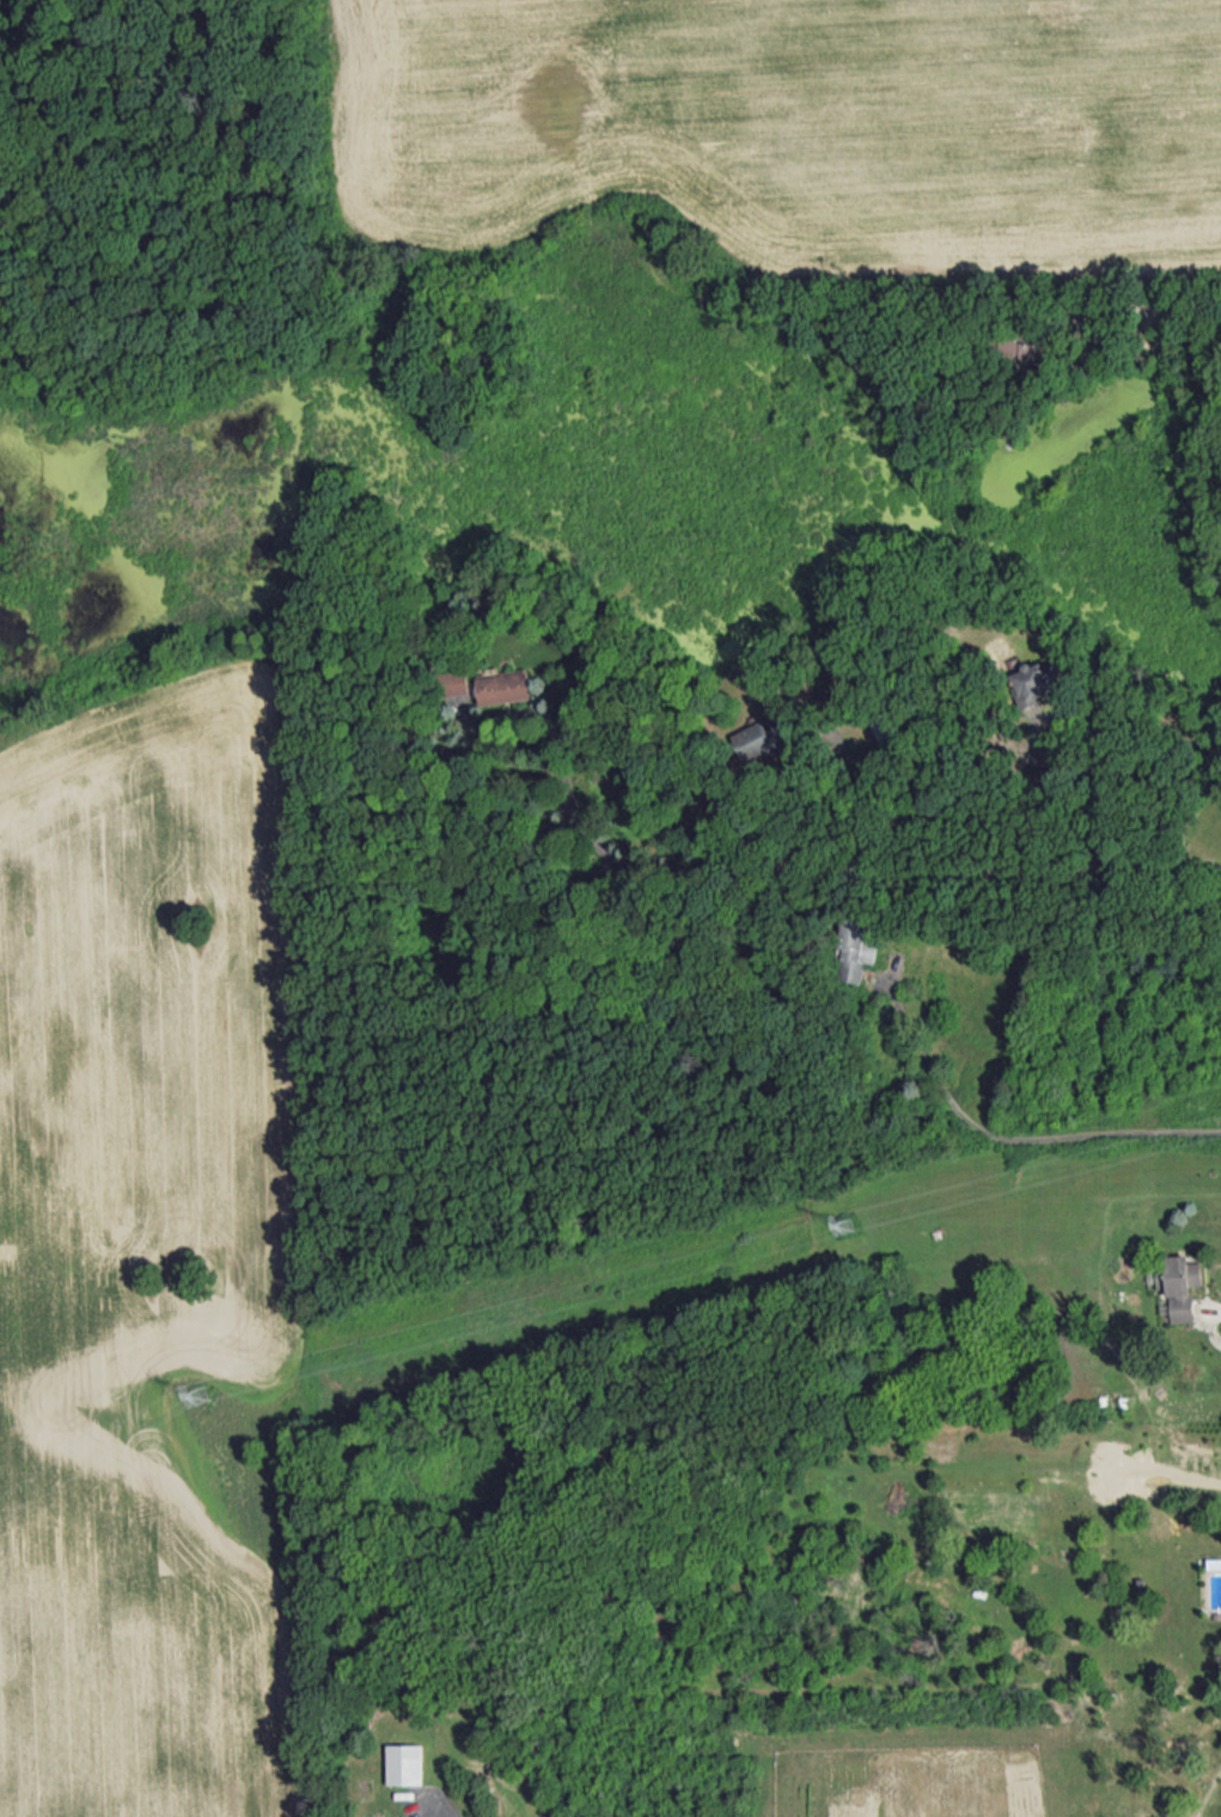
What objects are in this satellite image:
road: (1154, 319)
building: (1020, 348)
building: (460, 682)
building: (507, 687)
road: (509, 718)
road: (1093, 720)
building: (758, 738)
road: (881, 872)
building: (855, 950)
road: (1014, 1140)
power tower: (847, 1221)
crop: (154, 1256)
building: (1180, 1284)
road: (1211, 1325)
power tower: (197, 1396)
building: (404, 1763)
road: (445, 1810)

